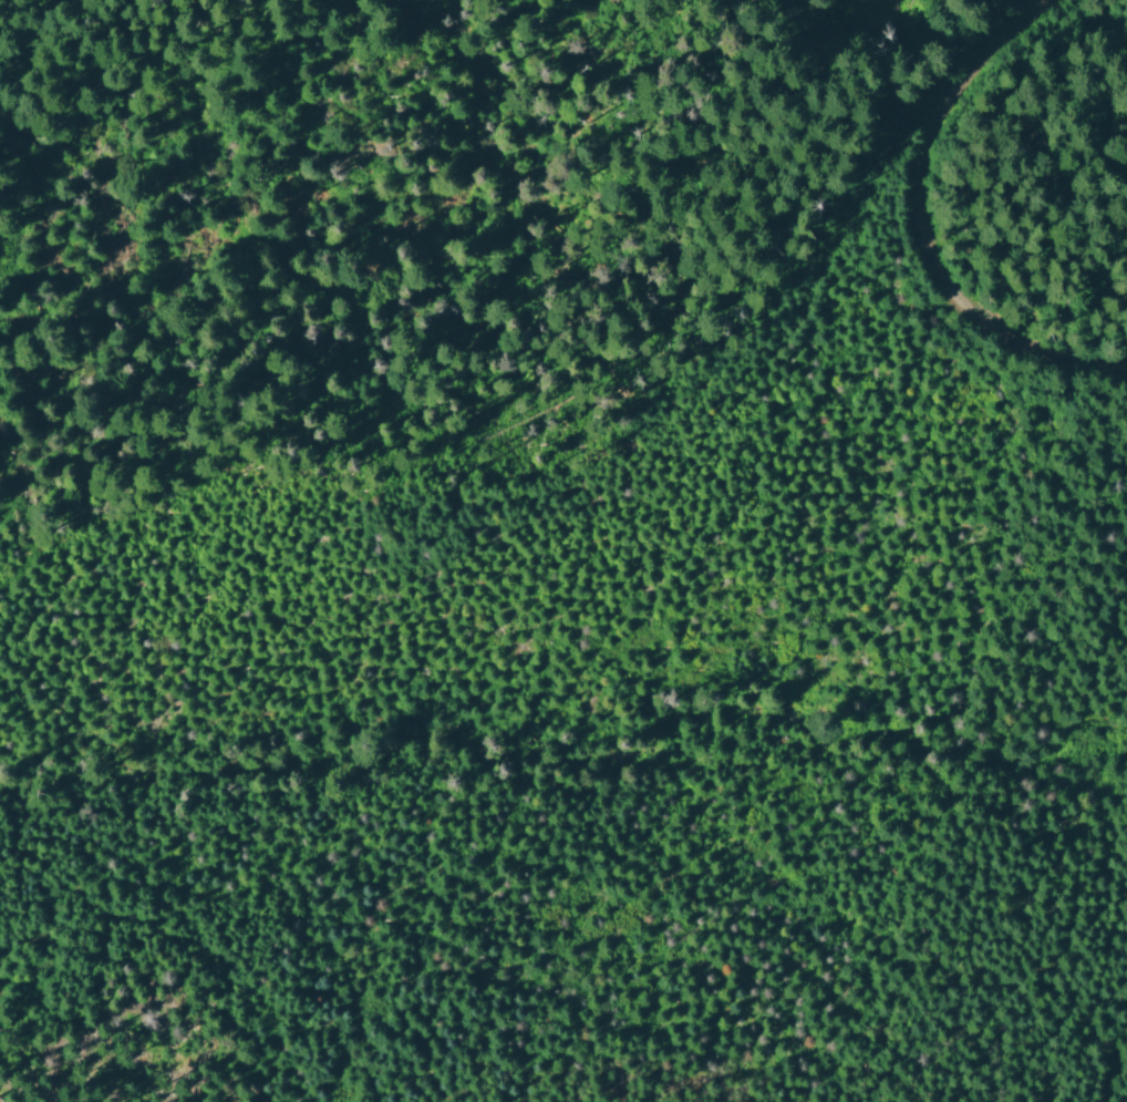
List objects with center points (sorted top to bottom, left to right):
road: (921, 223)

